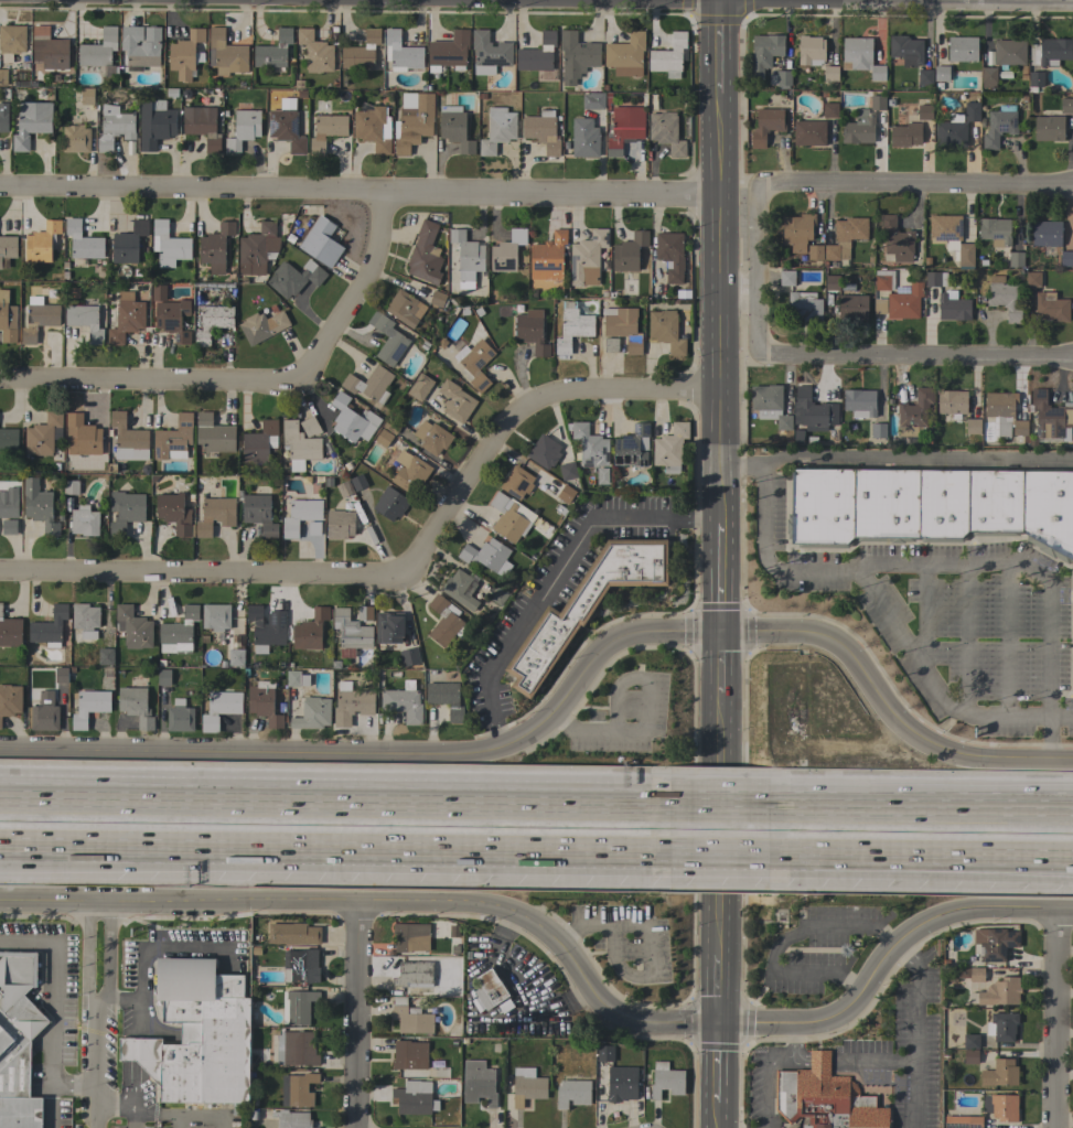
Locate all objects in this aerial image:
road: (916, 0)
road: (946, 1)
building: (11, 41)
building: (140, 46)
building: (50, 49)
building: (963, 49)
building: (98, 50)
building: (273, 50)
building: (811, 50)
building: (905, 50)
building: (449, 51)
building: (1054, 51)
building: (315, 52)
building: (362, 52)
building: (400, 53)
building: (489, 53)
building: (764, 53)
building: (1009, 53)
building: (225, 54)
building: (537, 54)
building: (184, 55)
building: (625, 55)
building: (577, 56)
building: (669, 56)
building: (861, 56)
building: (830, 73)
building: (941, 73)
building: (2, 77)
building: (924, 77)
building: (988, 77)
building: (781, 78)
building: (1036, 79)
building: (301, 94)
building: (87, 96)
building: (593, 100)
building: (877, 103)
building: (1066, 106)
building: (830, 110)
building: (972, 110)
building: (924, 111)
building: (3, 117)
building: (412, 121)
building: (31, 122)
building: (154, 123)
building: (202, 126)
building: (765, 126)
building: (999, 126)
building: (373, 127)
building: (114, 128)
building: (454, 128)
building: (624, 128)
building: (859, 128)
building: (1049, 128)
building: (244, 129)
building: (286, 129)
building: (497, 129)
building: (326, 131)
building: (541, 131)
building: (666, 132)
building: (951, 132)
building: (808, 133)
building: (905, 135)
building: (584, 138)
building: (75, 139)
road: (843, 186)
road: (358, 195)
building: (995, 230)
building: (796, 232)
building: (1047, 234)
building: (845, 237)
building: (951, 238)
building: (897, 239)
building: (83, 241)
building: (321, 241)
building: (41, 243)
building: (128, 243)
building: (169, 245)
building: (215, 247)
building: (257, 249)
building: (7, 250)
building: (506, 250)
building: (629, 251)
building: (814, 253)
building: (425, 255)
building: (468, 255)
building: (670, 255)
building: (549, 257)
building: (587, 258)
building: (1016, 259)
building: (1066, 259)
road: (719, 260)
building: (294, 278)
building: (786, 278)
building: (935, 279)
building: (1032, 279)
building: (883, 280)
building: (831, 282)
building: (437, 298)
building: (1004, 298)
building: (904, 302)
building: (879, 304)
building: (805, 305)
building: (952, 307)
building: (405, 308)
building: (852, 308)
building: (1051, 308)
building: (126, 318)
building: (7, 319)
building: (172, 319)
building: (39, 320)
building: (84, 321)
building: (212, 322)
building: (262, 326)
building: (572, 326)
building: (622, 327)
building: (532, 331)
building: (665, 331)
building: (387, 339)
building: (611, 345)
road: (882, 355)
building: (474, 364)
road: (255, 382)
building: (369, 384)
building: (420, 386)
building: (455, 401)
building: (952, 401)
building: (859, 402)
building: (770, 405)
building: (815, 409)
building: (914, 412)
building: (1004, 415)
building: (1051, 417)
building: (352, 419)
building: (393, 425)
building: (309, 427)
building: (973, 427)
building: (879, 430)
building: (44, 434)
building: (214, 434)
building: (83, 436)
building: (127, 437)
building: (431, 437)
building: (383, 438)
building: (9, 439)
building: (173, 439)
building: (258, 442)
building: (299, 442)
building: (590, 445)
building: (632, 447)
building: (669, 448)
building: (544, 451)
road: (914, 456)
building: (294, 465)
road: (740, 469)
building: (407, 471)
building: (568, 471)
building: (601, 476)
building: (358, 482)
building: (516, 482)
building: (71, 487)
building: (344, 490)
building: (566, 494)
building: (9, 503)
building: (390, 504)
building: (39, 506)
building: (931, 506)
building: (125, 511)
building: (174, 513)
building: (259, 514)
building: (215, 515)
building: (300, 516)
building: (507, 518)
building: (84, 522)
building: (340, 524)
building: (9, 527)
building: (313, 528)
building: (486, 555)
road: (555, 573)
road: (1018, 573)
road: (405, 577)
road: (722, 577)
building: (460, 589)
building: (497, 595)
building: (586, 604)
building: (364, 613)
building: (215, 616)
road: (923, 616)
building: (85, 620)
building: (446, 622)
road: (886, 623)
building: (49, 626)
building: (133, 627)
building: (389, 627)
building: (264, 629)
building: (180, 630)
building: (310, 630)
building: (351, 630)
building: (10, 631)
building: (258, 651)
building: (106, 656)
building: (236, 657)
building: (409, 657)
road: (721, 662)
building: (62, 675)
building: (163, 677)
building: (292, 678)
building: (446, 698)
road: (566, 698)
building: (10, 700)
building: (403, 701)
building: (264, 702)
building: (351, 703)
building: (136, 706)
building: (89, 707)
building: (217, 708)
building: (44, 712)
building: (312, 713)
road: (645, 715)
building: (179, 717)
road: (1060, 718)
road: (720, 762)
road: (335, 802)
road: (721, 804)
road: (922, 807)
railway: (536, 829)
road: (335, 847)
road: (721, 852)
road: (922, 855)
road: (719, 893)
building: (292, 934)
building: (410, 937)
road: (648, 942)
building: (994, 943)
road: (781, 944)
road: (161, 946)
road: (567, 953)
building: (300, 966)
building: (974, 974)
building: (412, 977)
road: (53, 987)
building: (490, 988)
road: (718, 988)
building: (1000, 992)
road: (96, 995)
road: (116, 1001)
building: (297, 1006)
road: (356, 1014)
road: (472, 1017)
building: (410, 1018)
road: (1056, 1019)
building: (1001, 1027)
road: (915, 1030)
building: (197, 1035)
building: (970, 1041)
building: (18, 1044)
road: (791, 1045)
building: (296, 1048)
building: (604, 1053)
building: (408, 1054)
road: (135, 1055)
building: (970, 1056)
road: (819, 1057)
road: (873, 1057)
road: (717, 1063)
building: (1000, 1073)
building: (666, 1079)
building: (478, 1083)
building: (621, 1083)
road: (764, 1083)
building: (527, 1086)
road: (74, 1087)
building: (298, 1089)
building: (572, 1093)
building: (414, 1097)
building: (825, 1098)
road: (52, 1105)
building: (1001, 1107)
road: (96, 1109)
road: (162, 1111)
road: (717, 1116)
road: (132, 1118)
building: (291, 1119)
building: (975, 1121)
building: (955, 1124)

